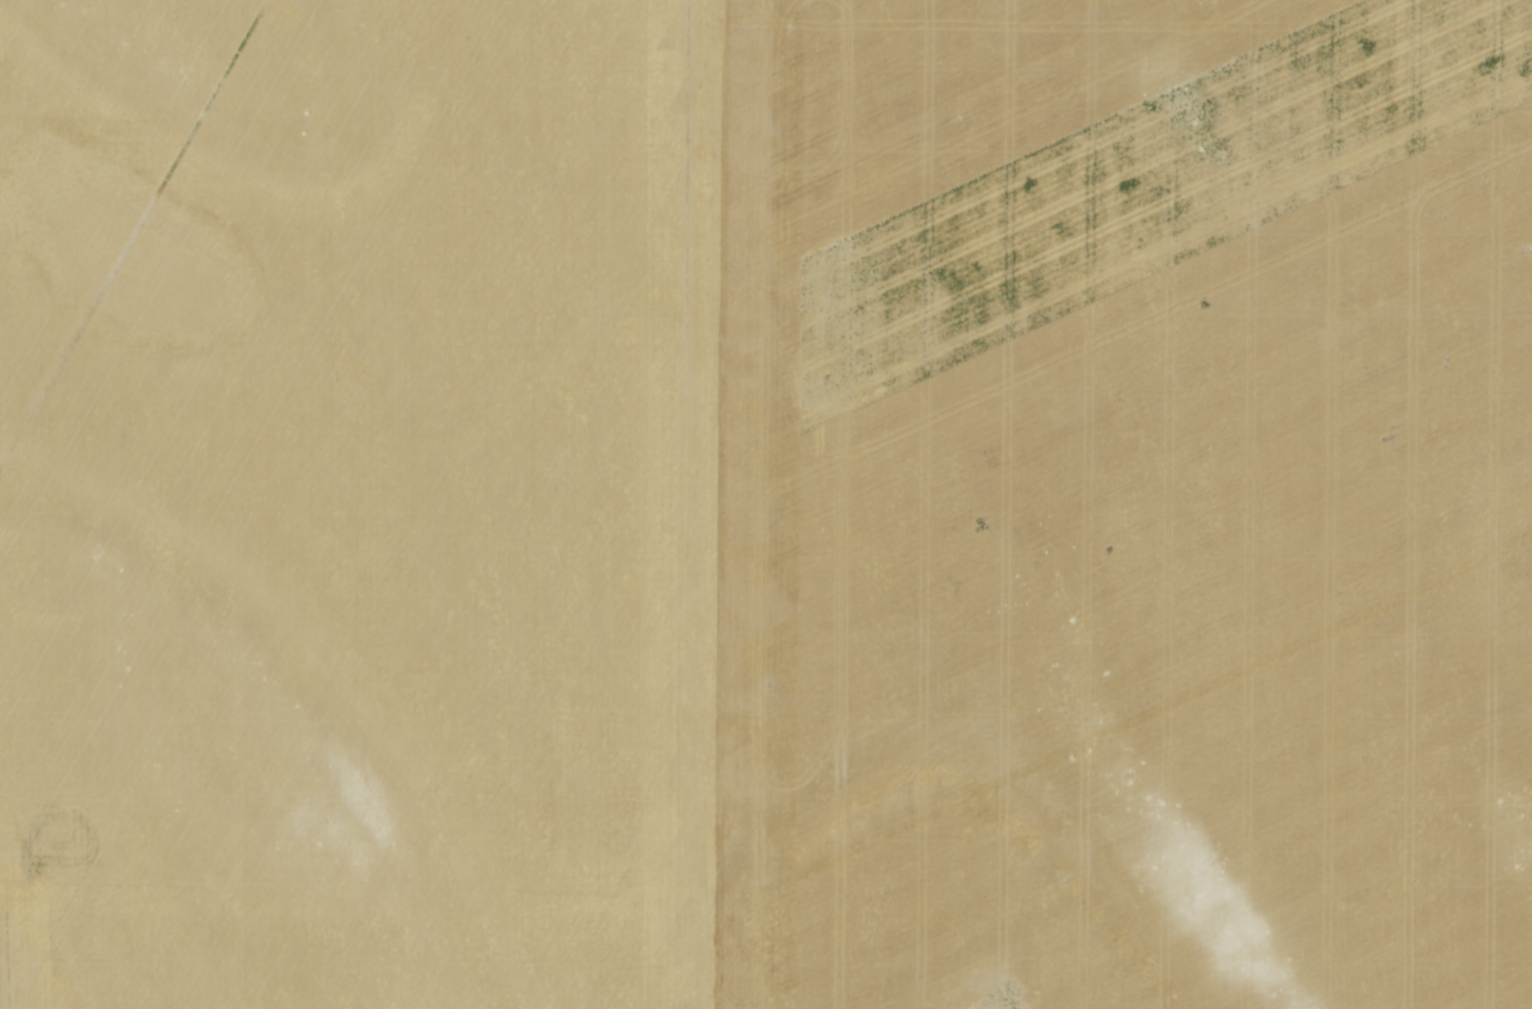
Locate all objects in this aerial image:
crop: (766, 504)

